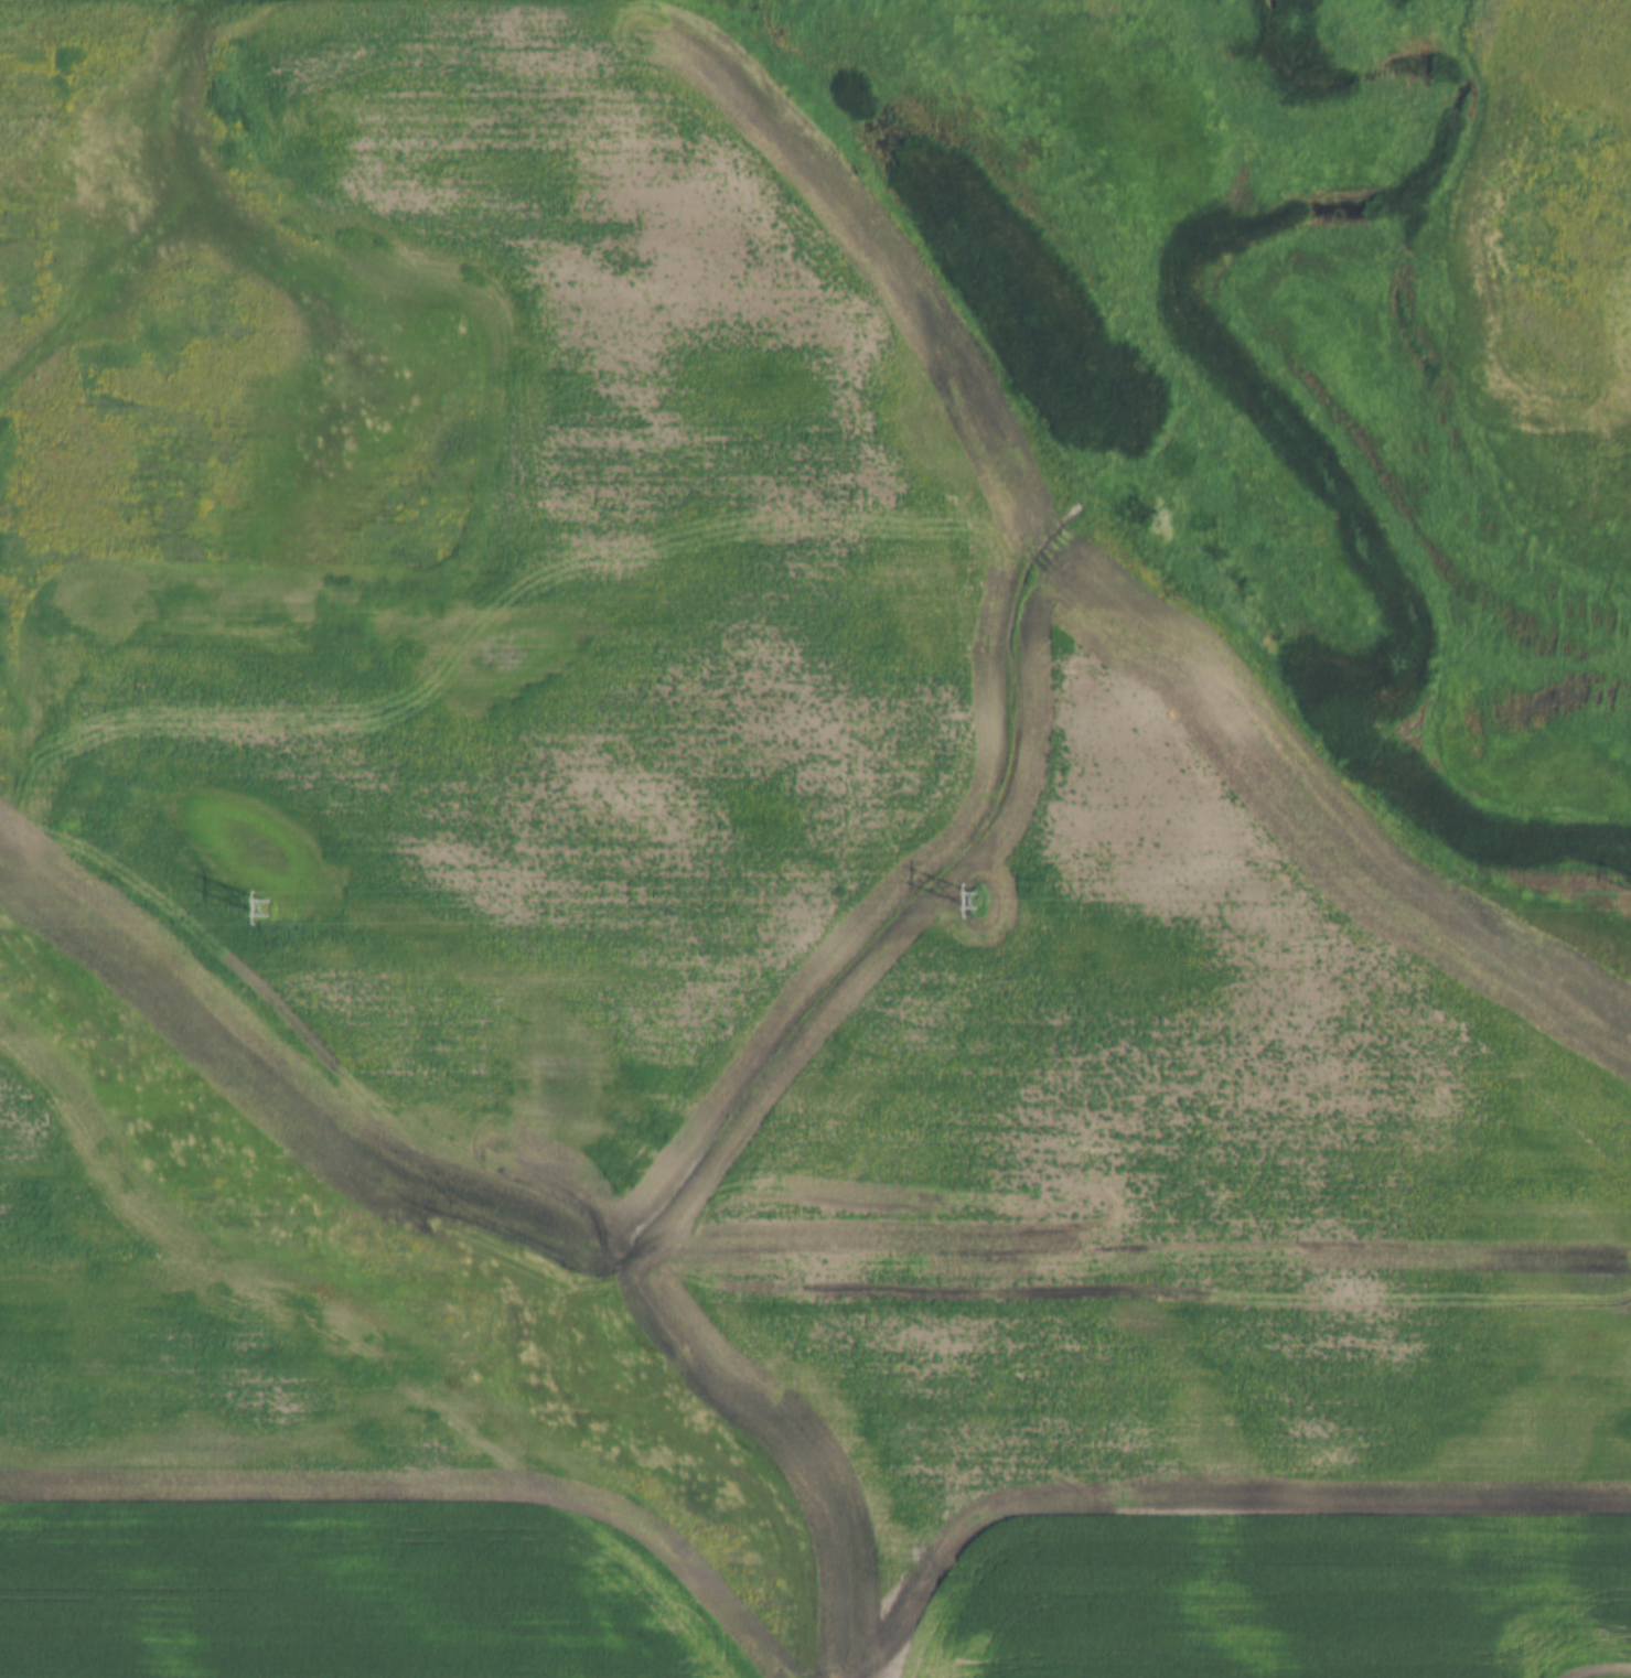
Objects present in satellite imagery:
power tower: (976, 903)
power tower: (265, 911)

